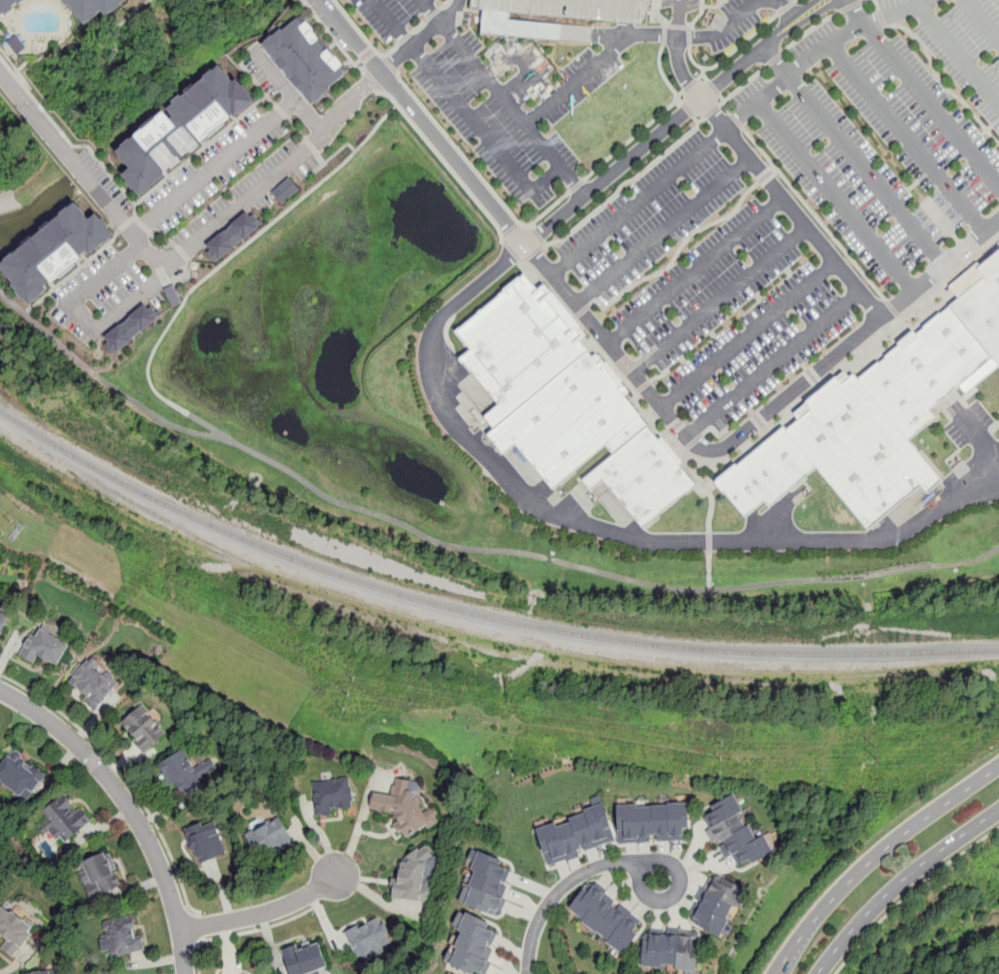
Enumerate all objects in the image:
road: (864, 0)
road: (793, 1)
building: (7, 5)
road: (851, 5)
road: (876, 5)
road: (712, 6)
building: (97, 7)
building: (574, 8)
parking garage: (574, 8)
road: (784, 8)
road: (432, 11)
road: (783, 11)
road: (856, 11)
road: (698, 13)
road: (738, 18)
road: (881, 18)
road: (984, 18)
road: (810, 29)
road: (363, 35)
road: (666, 35)
road: (689, 35)
road: (333, 36)
road: (425, 37)
road: (617, 47)
road: (960, 50)
road: (729, 52)
building: (307, 58)
road: (774, 58)
road: (522, 62)
road: (777, 62)
road: (389, 64)
road: (701, 73)
road: (663, 75)
road: (704, 76)
road: (939, 80)
road: (374, 81)
road: (690, 84)
road: (742, 84)
road: (713, 86)
road: (289, 90)
road: (565, 90)
parking lot: (492, 92)
road: (724, 102)
road: (931, 103)
road: (687, 109)
road: (710, 111)
road: (696, 119)
road: (735, 119)
road: (674, 122)
road: (422, 123)
road: (731, 125)
building: (183, 127)
road: (633, 135)
road: (911, 137)
road: (443, 161)
road: (216, 166)
road: (757, 166)
road: (869, 171)
road: (478, 174)
road: (767, 175)
road: (524, 180)
road: (572, 180)
road: (624, 181)
road: (577, 185)
building: (285, 190)
road: (838, 195)
road: (813, 213)
parking lot: (796, 217)
road: (510, 229)
road: (662, 231)
building: (232, 235)
road: (538, 235)
building: (58, 251)
road: (676, 252)
road: (177, 258)
road: (223, 263)
road: (695, 271)
road: (719, 299)
road: (891, 307)
building: (983, 307)
road: (82, 315)
building: (131, 327)
road: (747, 333)
road: (771, 362)
building: (927, 370)
building: (567, 403)
parking lot: (969, 423)
road: (749, 432)
building: (862, 449)
building: (768, 472)
power tower: (12, 524)
road: (605, 528)
road: (709, 535)
road: (468, 547)
railway: (478, 615)
building: (2, 620)
building: (43, 648)
building: (93, 683)
power tower: (351, 696)
building: (143, 728)
power tower: (876, 755)
power tower: (720, 761)
building: (180, 773)
road: (123, 775)
building: (19, 777)
building: (331, 796)
building: (404, 807)
road: (130, 808)
building: (62, 820)
building: (651, 823)
road: (357, 826)
building: (735, 833)
building: (575, 835)
building: (268, 837)
building: (206, 842)
road: (876, 857)
road: (651, 861)
building: (101, 875)
building: (416, 876)
road: (899, 882)
building: (487, 884)
road: (560, 891)
road: (909, 892)
building: (716, 906)
road: (261, 914)
building: (604, 918)
road: (196, 928)
building: (14, 929)
road: (246, 930)
building: (122, 937)
building: (370, 939)
building: (473, 946)
building: (670, 951)
building: (305, 959)
building: (46, 972)
building: (453, 973)

